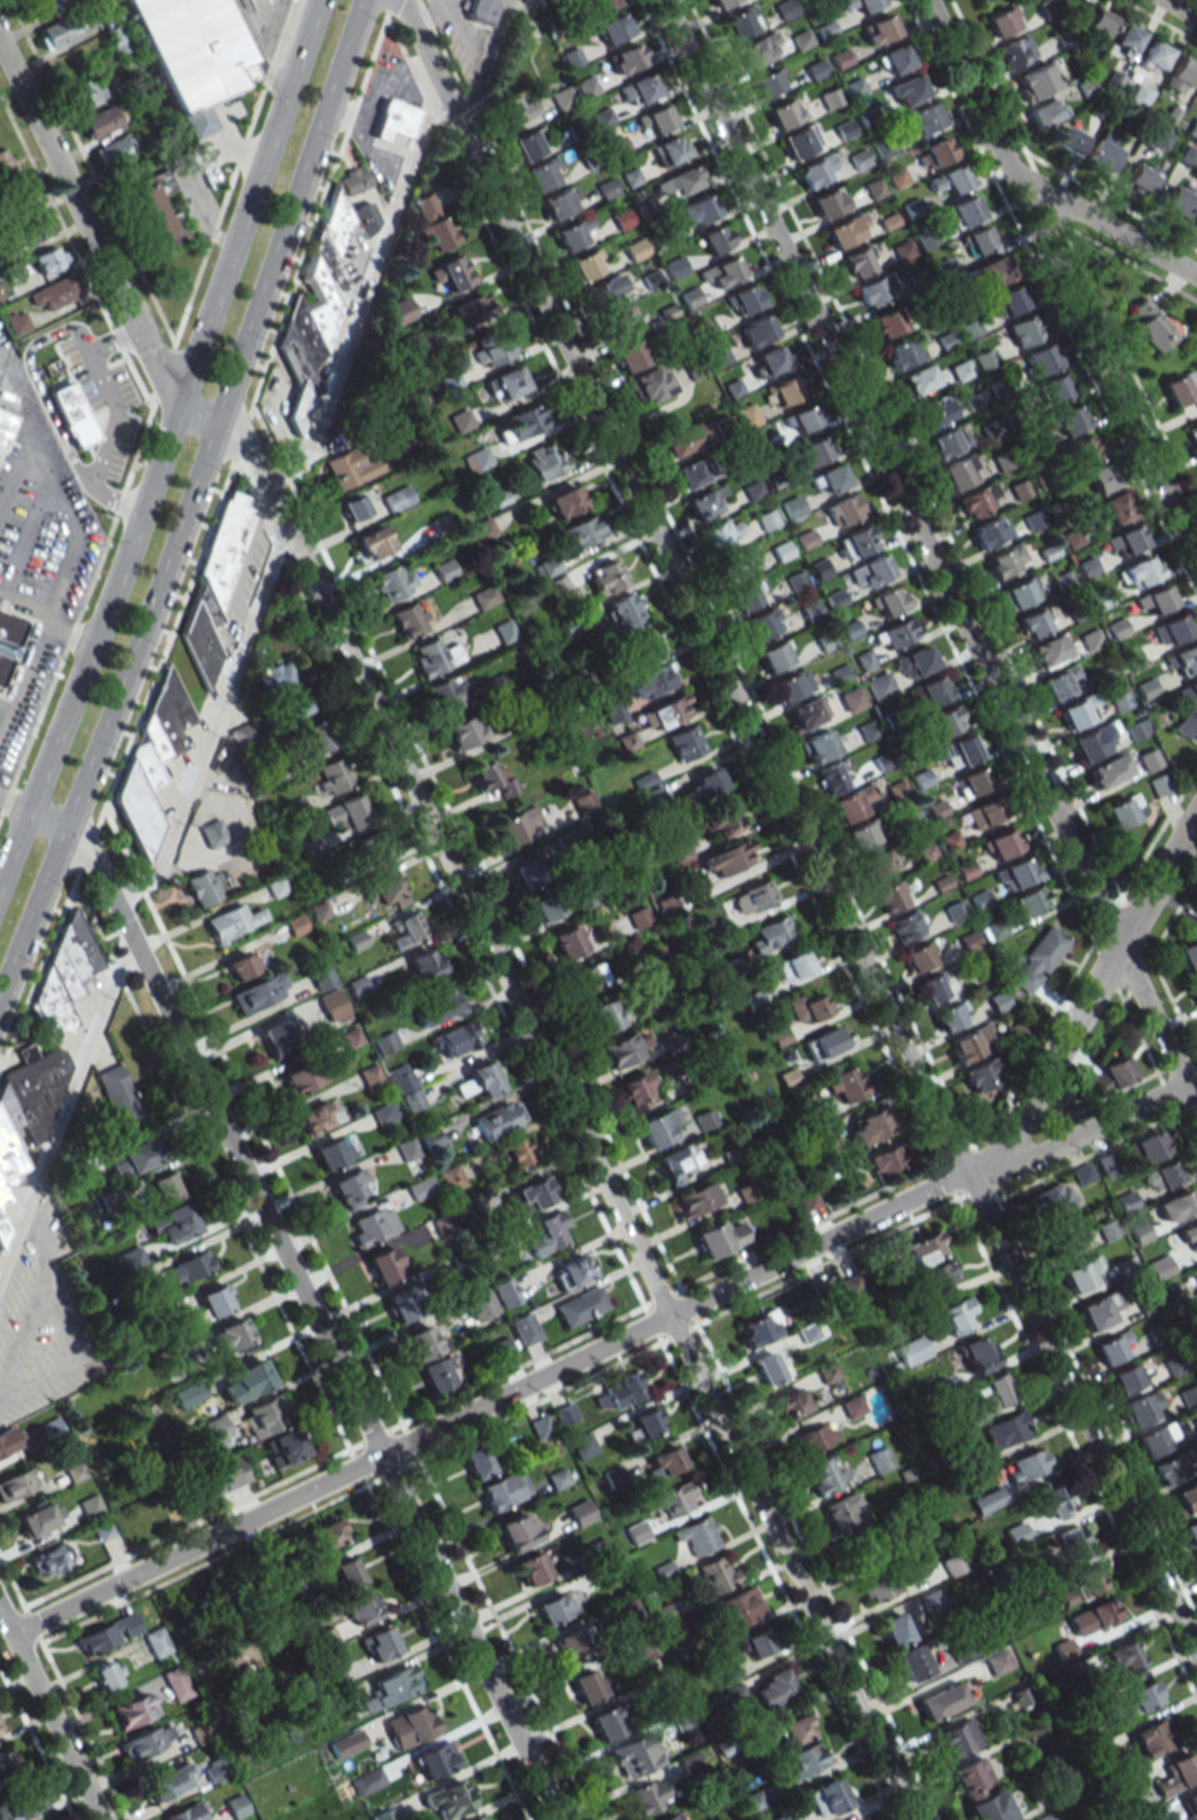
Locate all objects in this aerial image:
building: (980, 0)
building: (721, 1)
building: (600, 4)
building: (861, 4)
road: (389, 6)
building: (43, 7)
road: (1178, 10)
building: (481, 11)
road: (428, 14)
building: (1002, 21)
building: (741, 22)
road: (464, 27)
building: (1097, 27)
building: (614, 28)
building: (879, 29)
building: (58, 31)
building: (1126, 39)
building: (117, 40)
road: (441, 48)
road: (257, 49)
building: (757, 49)
building: (1017, 52)
building: (190, 53)
building: (573, 57)
building: (1155, 57)
building: (626, 58)
building: (894, 59)
road: (486, 63)
building: (1180, 75)
building: (1037, 80)
building: (769, 81)
building: (588, 87)
building: (640, 88)
building: (909, 89)
building: (84, 92)
building: (1139, 95)
building: (1196, 95)
building: (561, 98)
road: (470, 109)
building: (510, 110)
building: (785, 112)
building: (1046, 112)
building: (657, 118)
building: (925, 118)
building: (98, 122)
building: (394, 122)
building: (800, 141)
building: (1069, 141)
building: (528, 144)
building: (617, 146)
building: (113, 150)
building: (669, 150)
building: (937, 152)
building: (1102, 153)
building: (6, 166)
building: (817, 170)
building: (544, 174)
building: (1142, 177)
building: (950, 179)
building: (353, 180)
building: (679, 182)
road: (69, 185)
building: (1178, 198)
building: (19, 200)
building: (147, 201)
building: (561, 201)
building: (828, 201)
building: (697, 210)
building: (963, 211)
road: (317, 215)
building: (434, 222)
road: (1103, 224)
building: (1196, 227)
building: (845, 230)
building: (573, 233)
building: (715, 238)
building: (980, 239)
building: (636, 248)
building: (49, 259)
building: (858, 261)
building: (587, 264)
building: (992, 271)
building: (452, 273)
building: (721, 273)
park: (174, 276)
road: (1061, 277)
building: (605, 288)
building: (875, 289)
road: (362, 292)
building: (54, 293)
building: (743, 299)
building: (318, 300)
building: (1010, 300)
building: (400, 310)
building: (467, 311)
building: (75, 321)
building: (887, 322)
building: (621, 323)
building: (1152, 326)
building: (969, 328)
building: (757, 330)
building: (1023, 330)
building: (411, 346)
building: (492, 351)
building: (902, 352)
building: (629, 355)
building: (1040, 358)
building: (768, 361)
building: (919, 380)
building: (505, 384)
building: (651, 384)
road: (166, 386)
building: (1052, 388)
building: (1181, 388)
building: (782, 391)
building: (71, 414)
building: (929, 414)
building: (462, 420)
building: (802, 420)
building: (1070, 420)
road: (115, 421)
building: (521, 423)
building: (4, 426)
building: (1192, 435)
road: (241, 438)
building: (680, 439)
building: (947, 441)
road: (165, 443)
building: (815, 449)
building: (1084, 450)
building: (476, 460)
building: (545, 461)
road: (13, 467)
building: (350, 469)
building: (691, 472)
building: (961, 472)
building: (1101, 478)
building: (829, 479)
building: (398, 498)
building: (978, 499)
road: (188, 501)
building: (563, 501)
building: (705, 502)
building: (792, 507)
building: (1117, 507)
building: (353, 508)
building: (843, 510)
building: (767, 520)
building: (721, 532)
building: (988, 532)
building: (1125, 540)
building: (372, 543)
building: (855, 543)
building: (225, 545)
road: (931, 550)
parking lot: (34, 558)
building: (1005, 560)
road: (68, 563)
building: (735, 564)
building: (546, 567)
building: (445, 569)
building: (874, 569)
building: (1138, 572)
building: (605, 577)
building: (393, 580)
building: (557, 585)
road: (683, 589)
road: (663, 590)
building: (1020, 592)
building: (747, 596)
building: (485, 597)
building: (1156, 598)
building: (887, 601)
building: (206, 603)
road: (25, 604)
building: (624, 610)
building: (410, 619)
building: (1033, 624)
building: (758, 626)
building: (1170, 630)
road: (71, 633)
road: (724, 633)
building: (896, 633)
building: (8, 640)
building: (199, 642)
road: (165, 644)
building: (642, 646)
building: (1049, 650)
building: (434, 656)
building: (774, 656)
building: (1184, 659)
building: (914, 662)
building: (1058, 681)
building: (650, 683)
building: (793, 684)
building: (879, 685)
building: (287, 691)
building: (931, 691)
building: (447, 695)
building: (851, 700)
building: (1186, 706)
building: (612, 710)
building: (1078, 710)
building: (667, 712)
building: (806, 712)
building: (170, 713)
building: (945, 720)
road: (212, 722)
building: (464, 731)
building: (245, 733)
building: (316, 737)
building: (153, 738)
building: (1096, 741)
building: (685, 743)
building: (818, 745)
building: (958, 751)
building: (147, 765)
building: (1108, 771)
building: (333, 776)
building: (493, 778)
building: (835, 778)
building: (973, 782)
building: (1157, 785)
building: (702, 788)
building: (585, 803)
building: (850, 803)
road: (13, 806)
building: (139, 809)
building: (1123, 810)
building: (347, 813)
building: (981, 814)
building: (721, 821)
building: (518, 824)
building: (213, 833)
building: (862, 835)
building: (1001, 844)
building: (310, 847)
building: (371, 848)
road: (87, 850)
road: (468, 850)
building: (926, 850)
building: (728, 858)
building: (878, 862)
building: (1016, 873)
building: (529, 876)
building: (205, 886)
building: (277, 886)
building: (385, 890)
building: (891, 896)
building: (752, 897)
building: (1031, 901)
building: (546, 907)
road: (1108, 917)
building: (639, 918)
building: (235, 923)
building: (904, 926)
building: (406, 931)
building: (769, 936)
building: (565, 942)
building: (78, 948)
building: (1187, 952)
building: (920, 956)
building: (253, 959)
building: (1038, 959)
building: (426, 962)
building: (791, 966)
road: (39, 972)
building: (64, 976)
building: (586, 978)
building: (1193, 987)
building: (933, 988)
building: (259, 993)
road: (1086, 999)
building: (753, 1001)
building: (333, 1005)
building: (808, 1005)
building: (53, 1006)
building: (435, 1006)
building: (604, 1016)
building: (947, 1017)
building: (276, 1035)
building: (779, 1036)
road: (1037, 1038)
building: (454, 1040)
building: (670, 1042)
building: (972, 1042)
building: (823, 1044)
building: (626, 1047)
building: (306, 1075)
building: (979, 1075)
building: (1110, 1076)
building: (480, 1079)
building: (845, 1085)
building: (37, 1090)
building: (636, 1092)
building: (119, 1095)
road: (64, 1106)
building: (8, 1107)
road: (573, 1114)
building: (318, 1116)
road: (254, 1119)
building: (498, 1119)
building: (868, 1125)
building: (657, 1128)
road: (1080, 1128)
building: (11, 1147)
building: (1146, 1147)
building: (407, 1149)
building: (335, 1152)
building: (515, 1152)
road: (958, 1152)
building: (133, 1159)
building: (882, 1160)
building: (679, 1163)
road: (215, 1166)
building: (6, 1171)
building: (1082, 1174)
building: (1162, 1175)
building: (451, 1177)
building: (162, 1188)
building: (421, 1188)
building: (350, 1189)
building: (4, 1194)
building: (532, 1194)
building: (809, 1199)
building: (694, 1200)
building: (1050, 1201)
building: (1175, 1206)
building: (171, 1224)
building: (372, 1225)
road: (810, 1225)
building: (2, 1231)
building: (550, 1233)
building: (1062, 1236)
building: (718, 1237)
building: (1190, 1237)
building: (923, 1248)
building: (385, 1265)
building: (192, 1266)
building: (1196, 1270)
building: (571, 1271)
building: (941, 1274)
building: (1080, 1274)
building: (850, 1284)
building: (505, 1292)
road: (661, 1298)
road: (307, 1301)
building: (404, 1301)
building: (212, 1303)
building: (480, 1304)
building: (581, 1306)
building: (1099, 1310)
building: (957, 1316)
building: (757, 1328)
building: (524, 1329)
building: (810, 1330)
building: (231, 1336)
building: (423, 1341)
building: (503, 1347)
building: (1113, 1347)
building: (913, 1350)
building: (980, 1353)
building: (1175, 1365)
building: (770, 1367)
road: (516, 1368)
building: (438, 1374)
building: (1127, 1379)
building: (245, 1381)
building: (621, 1392)
building: (996, 1392)
road: (486, 1404)
building: (790, 1404)
building: (1144, 1408)
building: (565, 1414)
building: (264, 1416)
road: (1080, 1421)
building: (647, 1422)
building: (540, 1427)
building: (217, 1428)
building: (1007, 1430)
road: (374, 1436)
building: (814, 1438)
building: (10, 1439)
building: (1156, 1439)
road: (411, 1441)
building: (287, 1446)
building: (582, 1446)
building: (879, 1459)
building: (479, 1462)
building: (662, 1463)
building: (1027, 1465)
road: (357, 1467)
building: (1170, 1468)
building: (227, 1475)
building: (826, 1475)
building: (16, 1485)
building: (504, 1490)
building: (184, 1492)
building: (674, 1499)
building: (988, 1500)
building: (1056, 1500)
building: (580, 1512)
building: (841, 1512)
building: (40, 1518)
road: (194, 1525)
building: (517, 1532)
building: (636, 1532)
building: (1190, 1532)
building: (328, 1534)
building: (694, 1538)
building: (1072, 1541)
building: (1196, 1556)
building: (51, 1559)
building: (954, 1564)
building: (530, 1568)
building: (347, 1572)
building: (716, 1574)
road: (12, 1580)
building: (1085, 1582)
building: (878, 1585)
building: (931, 1598)
building: (738, 1607)
building: (555, 1608)
building: (360, 1611)
building: (1095, 1615)
building: (894, 1629)
building: (671, 1632)
building: (108, 1634)
building: (157, 1641)
building: (571, 1641)
building: (757, 1643)
building: (379, 1644)
building: (1123, 1657)
building: (997, 1661)
building: (911, 1662)
building: (108, 1674)
building: (178, 1683)
building: (586, 1685)
building: (392, 1687)
building: (771, 1689)
building: (1139, 1698)
building: (941, 1701)
building: (131, 1709)
road: (51, 1715)
building: (608, 1721)
building: (410, 1726)
building: (1, 1728)
building: (793, 1731)
building: (957, 1738)
building: (1151, 1738)
building: (146, 1742)
building: (346, 1744)
building: (1101, 1749)
building: (633, 1756)
building: (434, 1760)
building: (803, 1760)
building: (7, 1765)
building: (217, 1769)
building: (1179, 1772)
building: (970, 1777)
building: (368, 1779)
building: (169, 1781)
building: (647, 1797)
building: (827, 1797)
building: (448, 1799)
building: (20, 1804)
building: (1189, 1807)
building: (987, 1808)
building: (188, 1813)
building: (667, 1816)
building: (785, 1816)
building: (477, 1818)
building: (1044, 1818)
building: (852, 1819)

